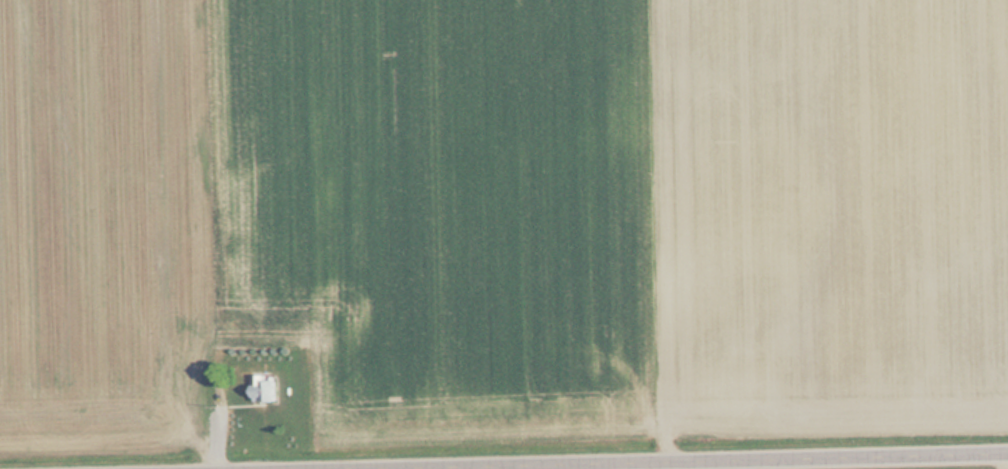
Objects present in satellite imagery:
building: (197, 226)
building: (164, 268)
building: (265, 388)
road: (722, 463)

